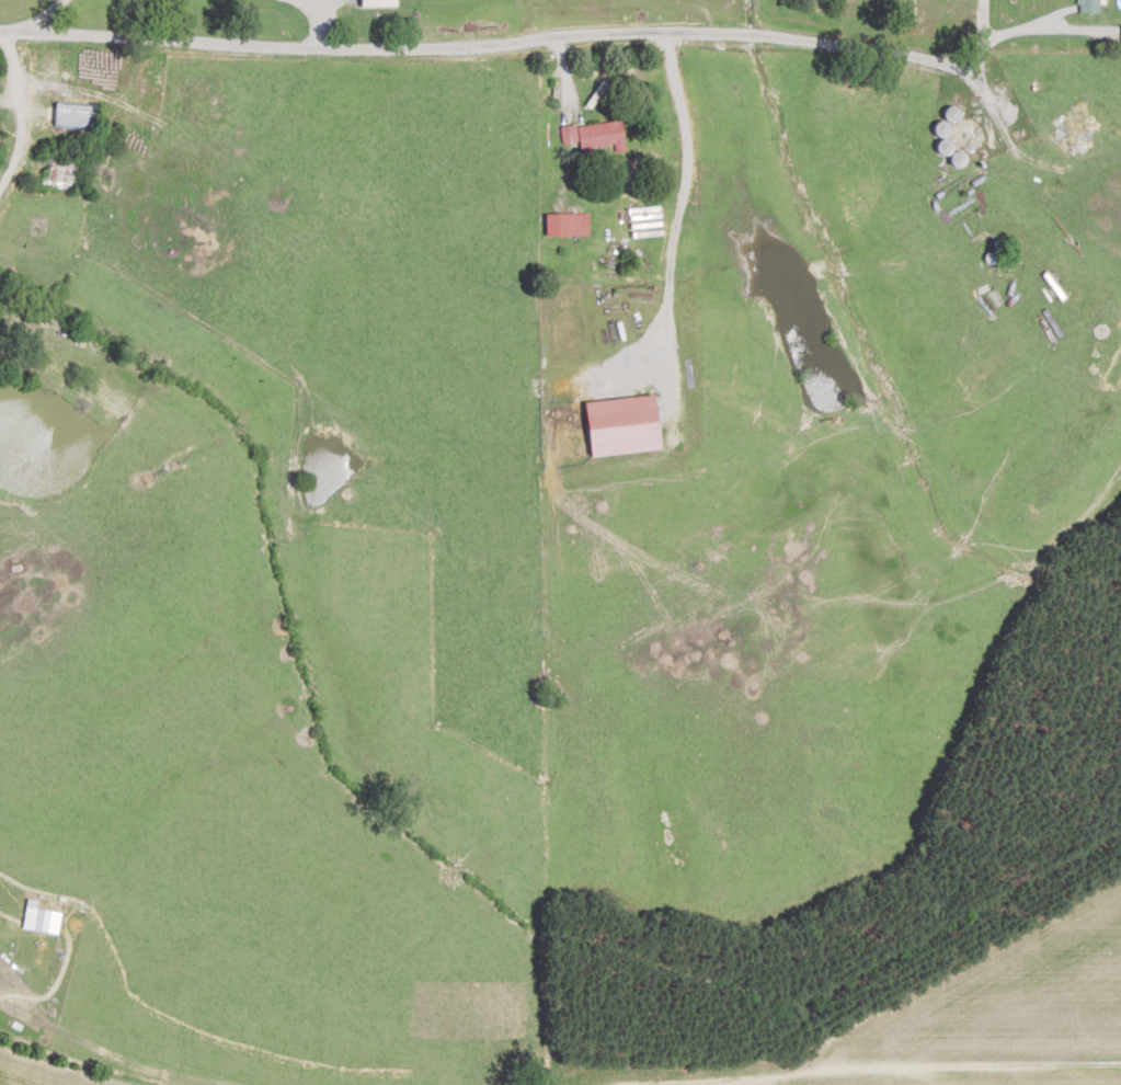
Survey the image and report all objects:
building: (381, 3)
building: (1091, 7)
road: (619, 49)
building: (78, 116)
building: (593, 137)
building: (568, 225)
building: (1059, 287)

